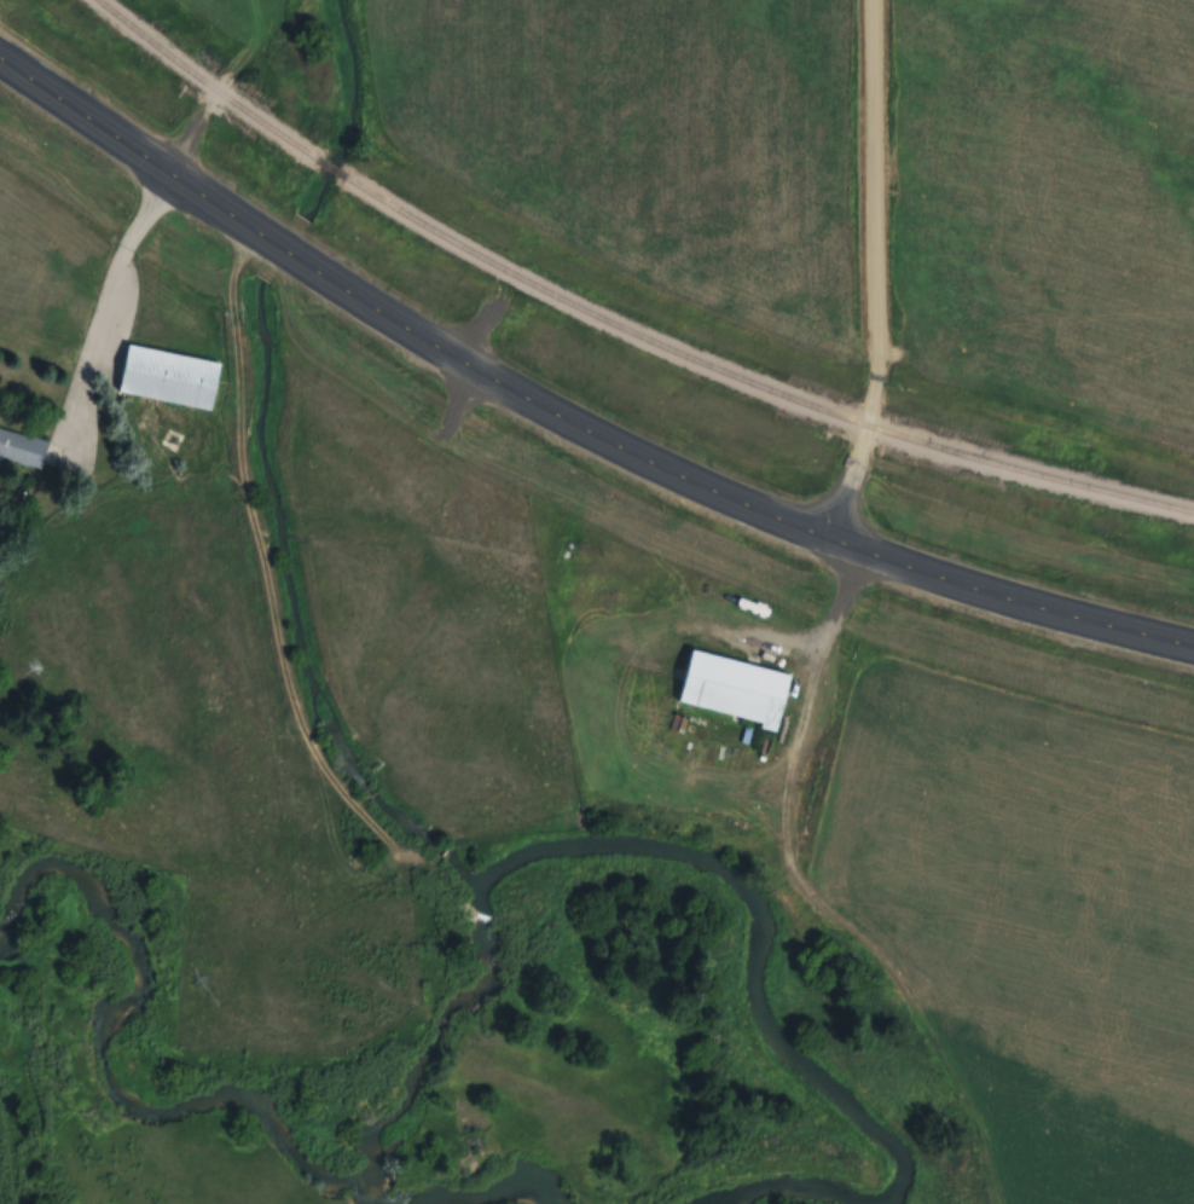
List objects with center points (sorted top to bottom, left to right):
railway: (202, 80)
road: (208, 105)
railway: (329, 167)
road: (875, 272)
road: (97, 307)
building: (164, 377)
railway: (754, 384)
road: (569, 409)
building: (19, 444)
building: (737, 685)
road: (808, 899)
river: (502, 1186)

